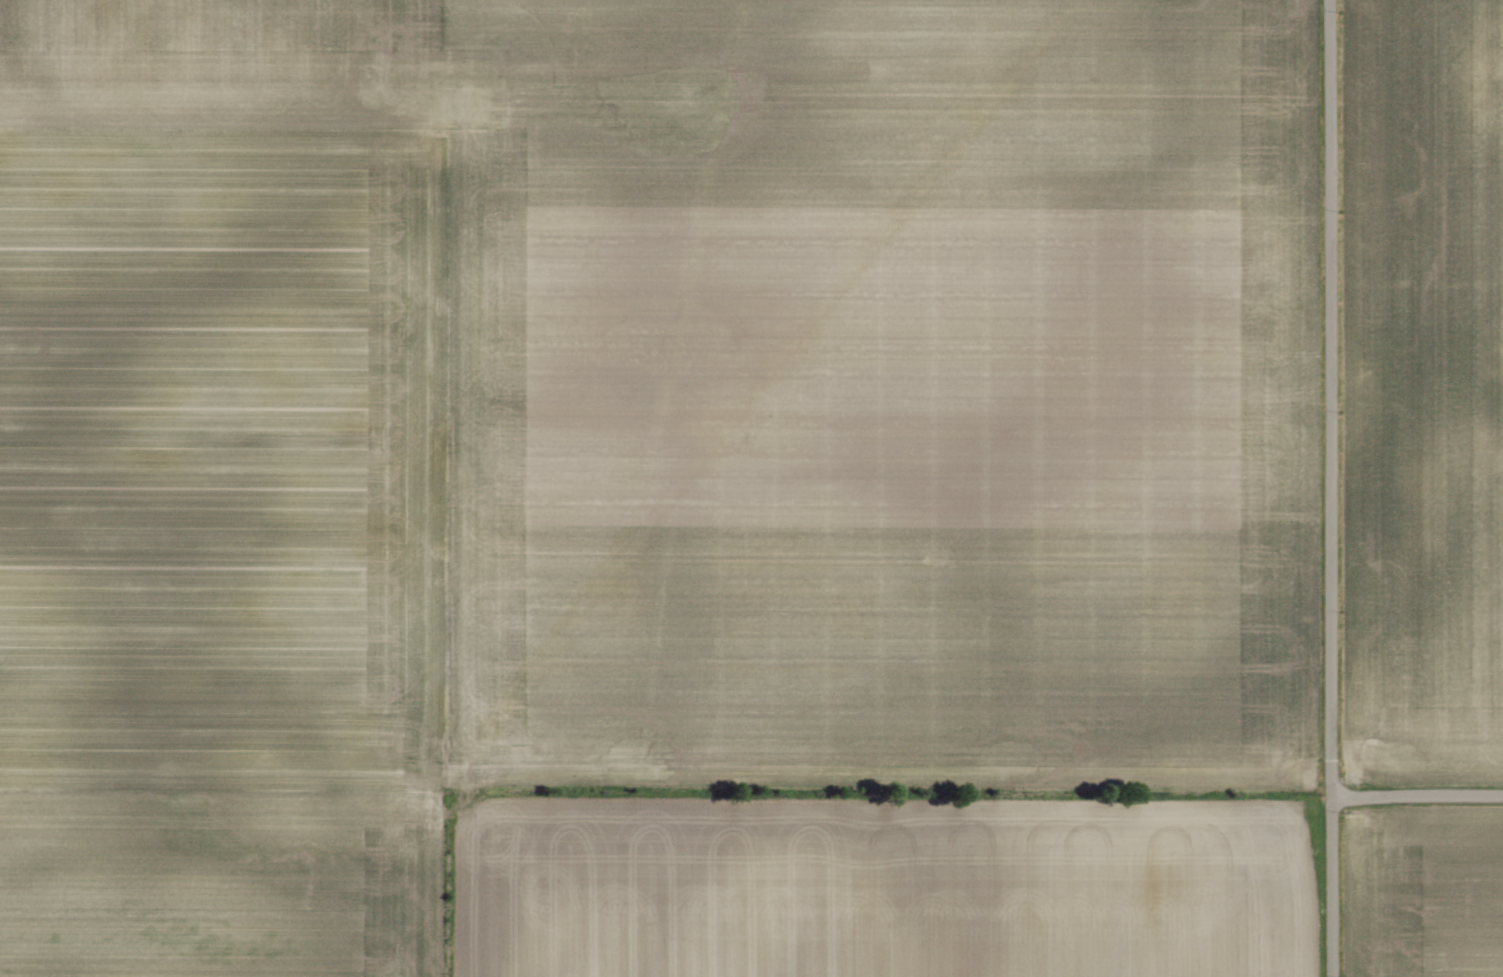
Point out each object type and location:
road: (1328, 488)
road: (1416, 794)

